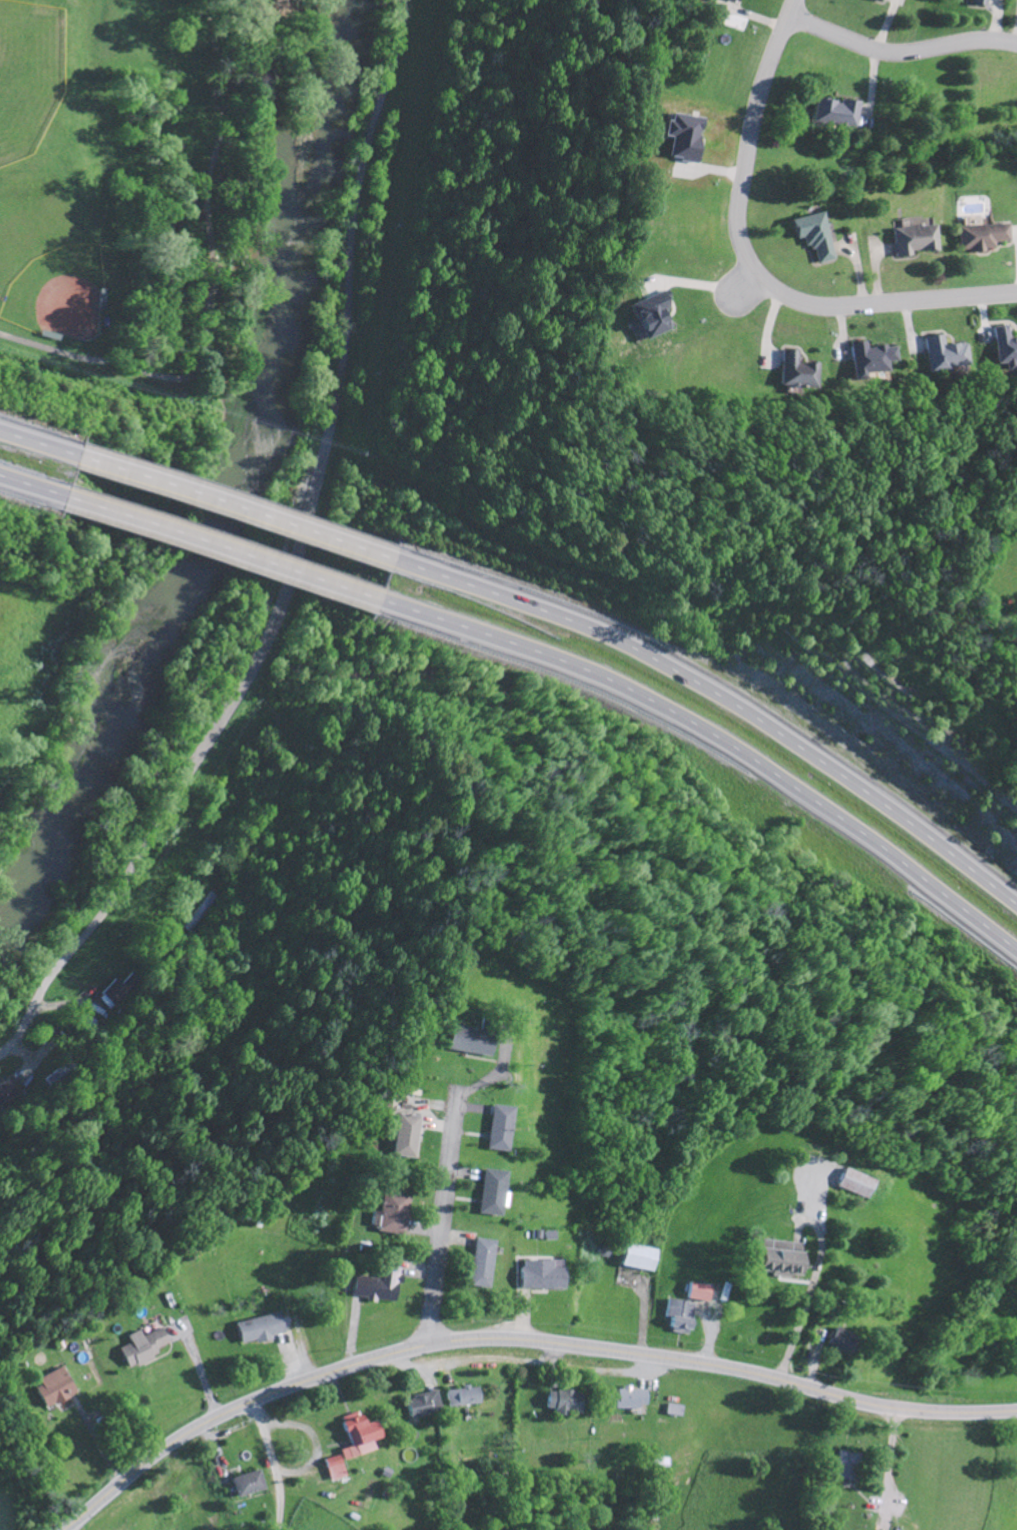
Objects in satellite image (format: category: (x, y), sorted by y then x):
building: (732, 0)
building: (883, 1)
building: (978, 3)
road: (899, 52)
park: (29, 76)
building: (837, 114)
park: (148, 175)
building: (815, 237)
building: (983, 238)
building: (915, 240)
road: (753, 267)
road: (749, 285)
road: (210, 286)
park: (59, 292)
building: (647, 319)
building: (1003, 348)
building: (941, 356)
building: (866, 361)
building: (793, 373)
road: (35, 444)
road: (28, 489)
river: (237, 491)
road: (229, 507)
road: (216, 549)
road: (297, 565)
road: (720, 689)
road: (715, 737)
building: (114, 995)
building: (88, 1025)
building: (468, 1042)
building: (9, 1093)
building: (497, 1129)
building: (404, 1137)
building: (854, 1184)
building: (490, 1194)
building: (390, 1214)
road: (440, 1217)
building: (638, 1258)
building: (777, 1259)
building: (478, 1264)
building: (537, 1276)
building: (375, 1286)
building: (696, 1293)
building: (677, 1317)
road: (796, 1325)
building: (258, 1330)
road: (519, 1340)
building: (838, 1341)
building: (139, 1348)
building: (52, 1389)
building: (459, 1398)
building: (562, 1403)
building: (419, 1405)
building: (354, 1437)
road: (272, 1464)
building: (846, 1466)
building: (332, 1469)
building: (246, 1485)

